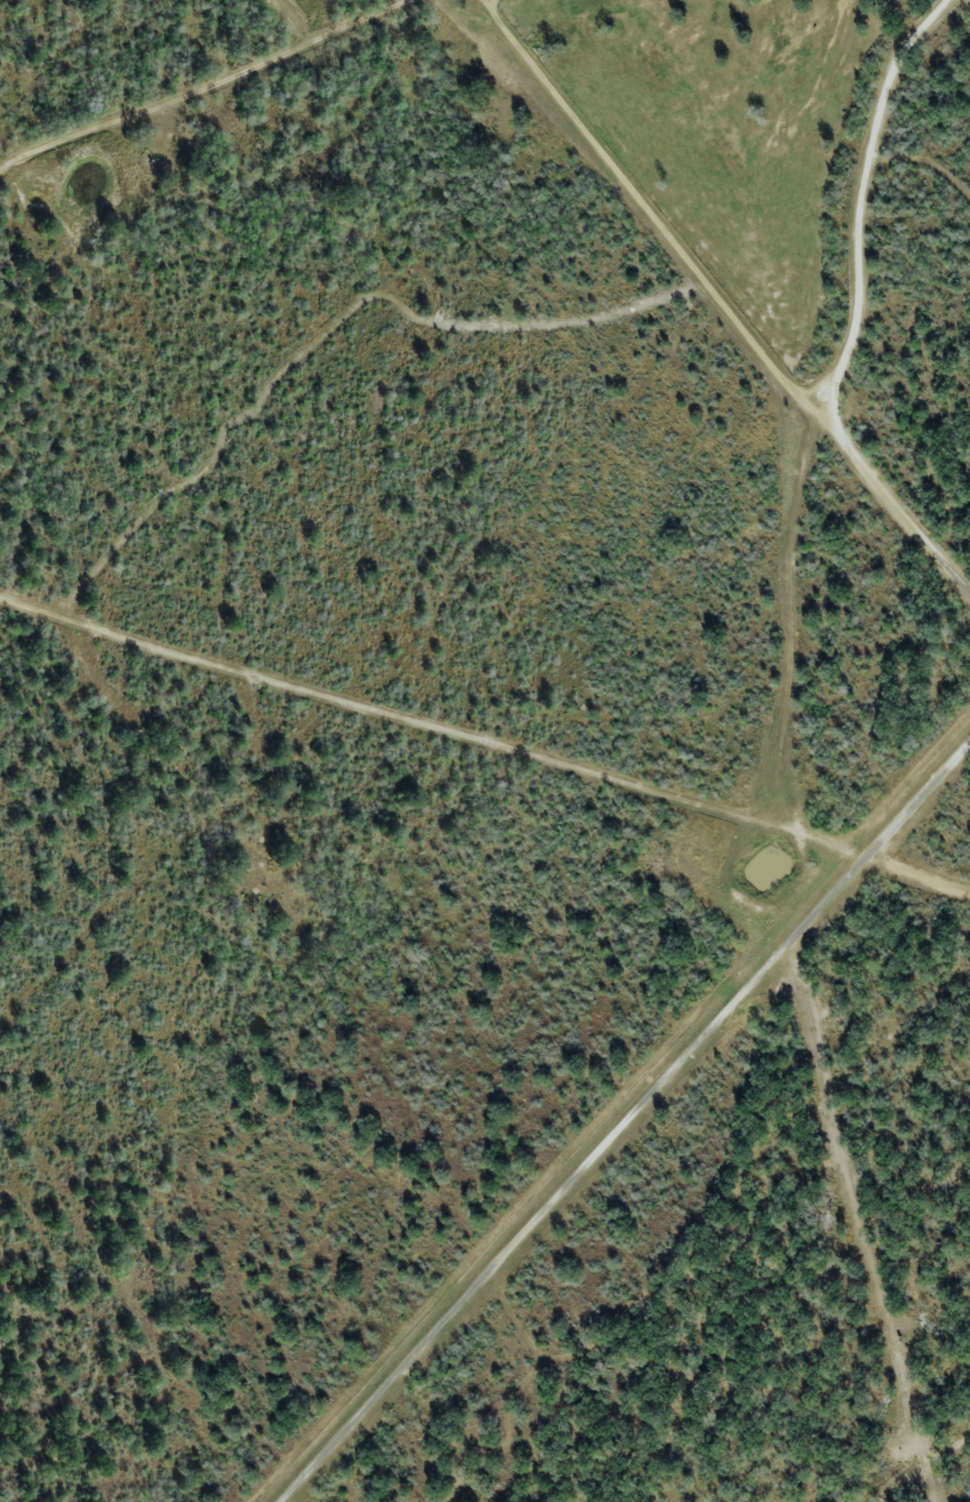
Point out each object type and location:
road: (858, 312)
road: (627, 1121)

